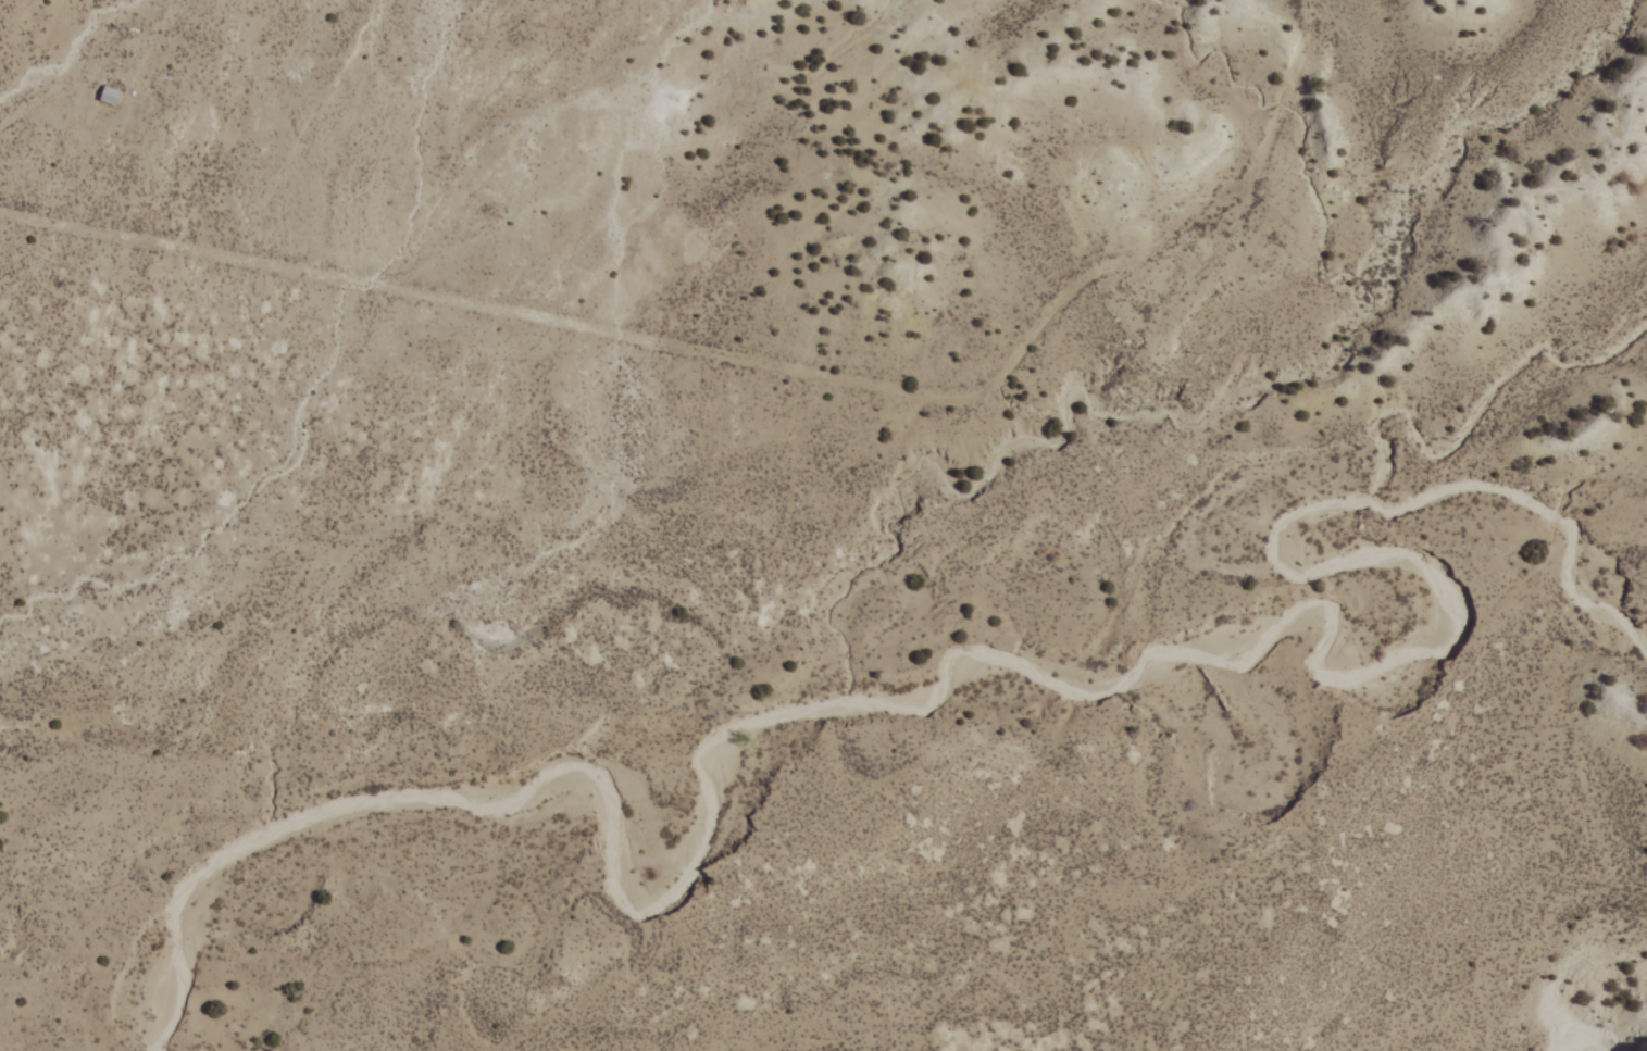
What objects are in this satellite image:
building: (110, 96)
river: (1206, 750)

